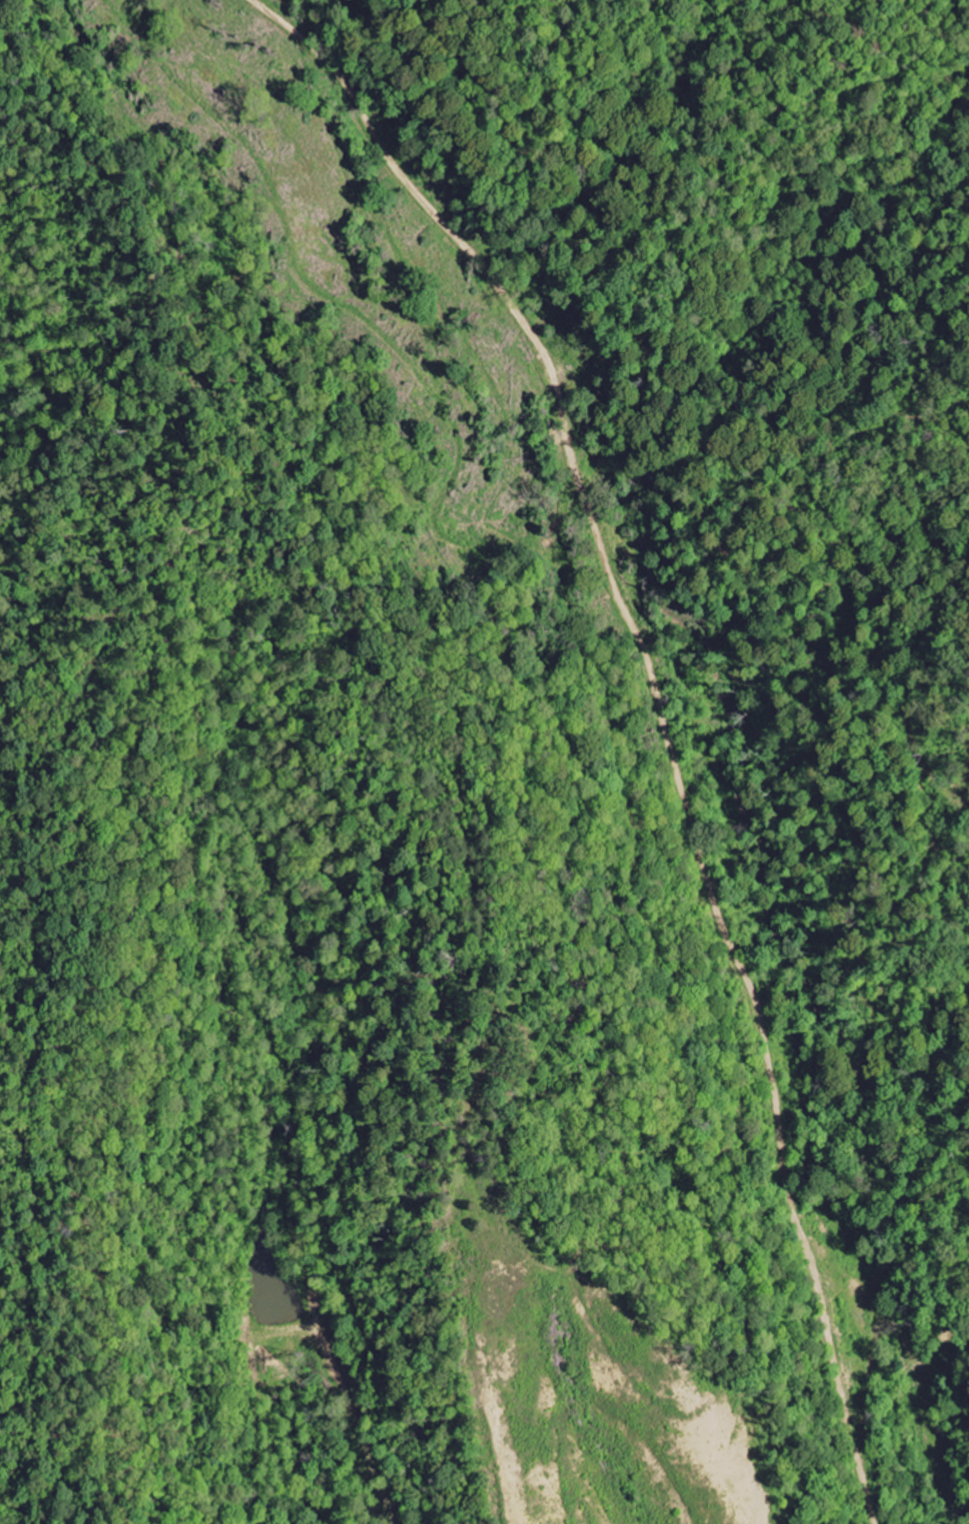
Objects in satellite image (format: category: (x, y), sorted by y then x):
road: (865, 1499)

